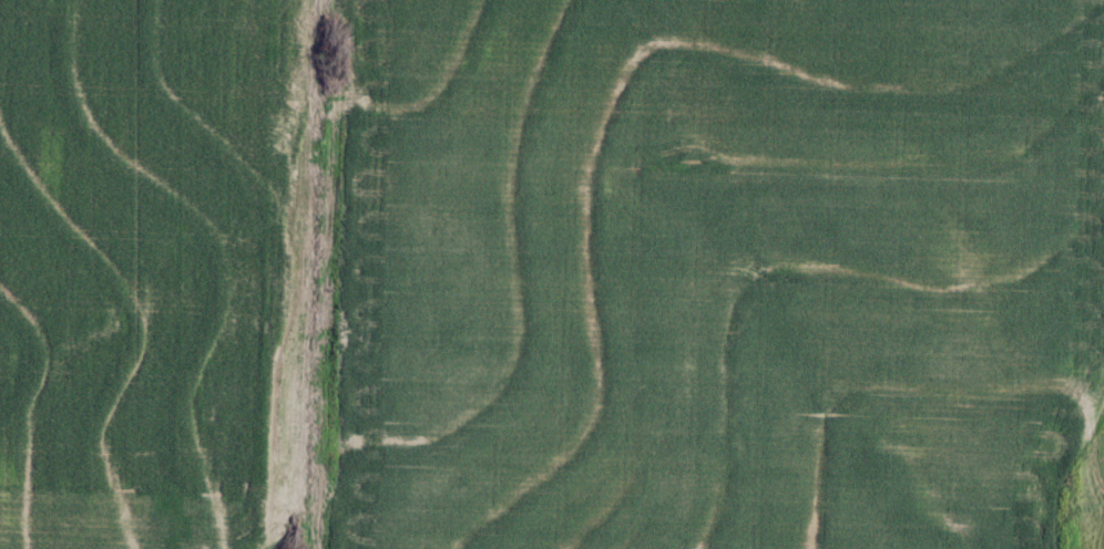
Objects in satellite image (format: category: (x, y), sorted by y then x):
crop: (714, 274)

